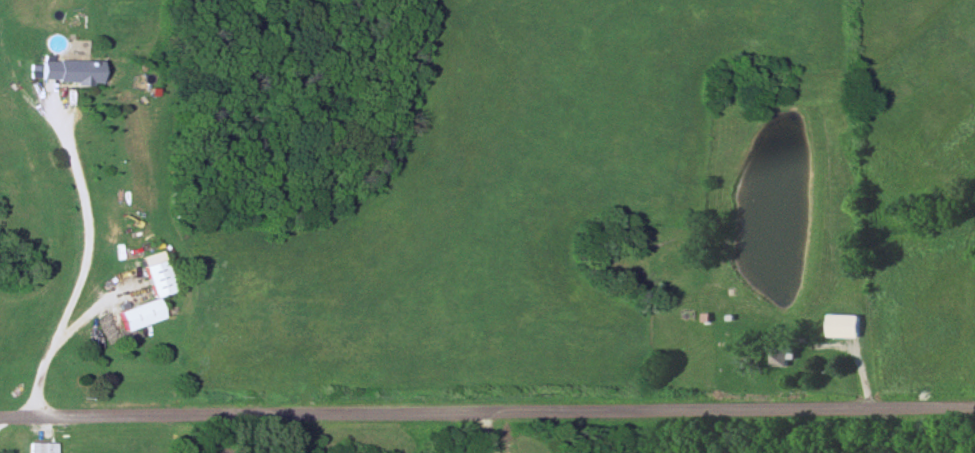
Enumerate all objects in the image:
building: (67, 69)
road: (88, 233)
building: (157, 277)
building: (842, 325)
road: (64, 333)
building: (779, 355)
road: (487, 409)
road: (490, 431)
building: (42, 447)

